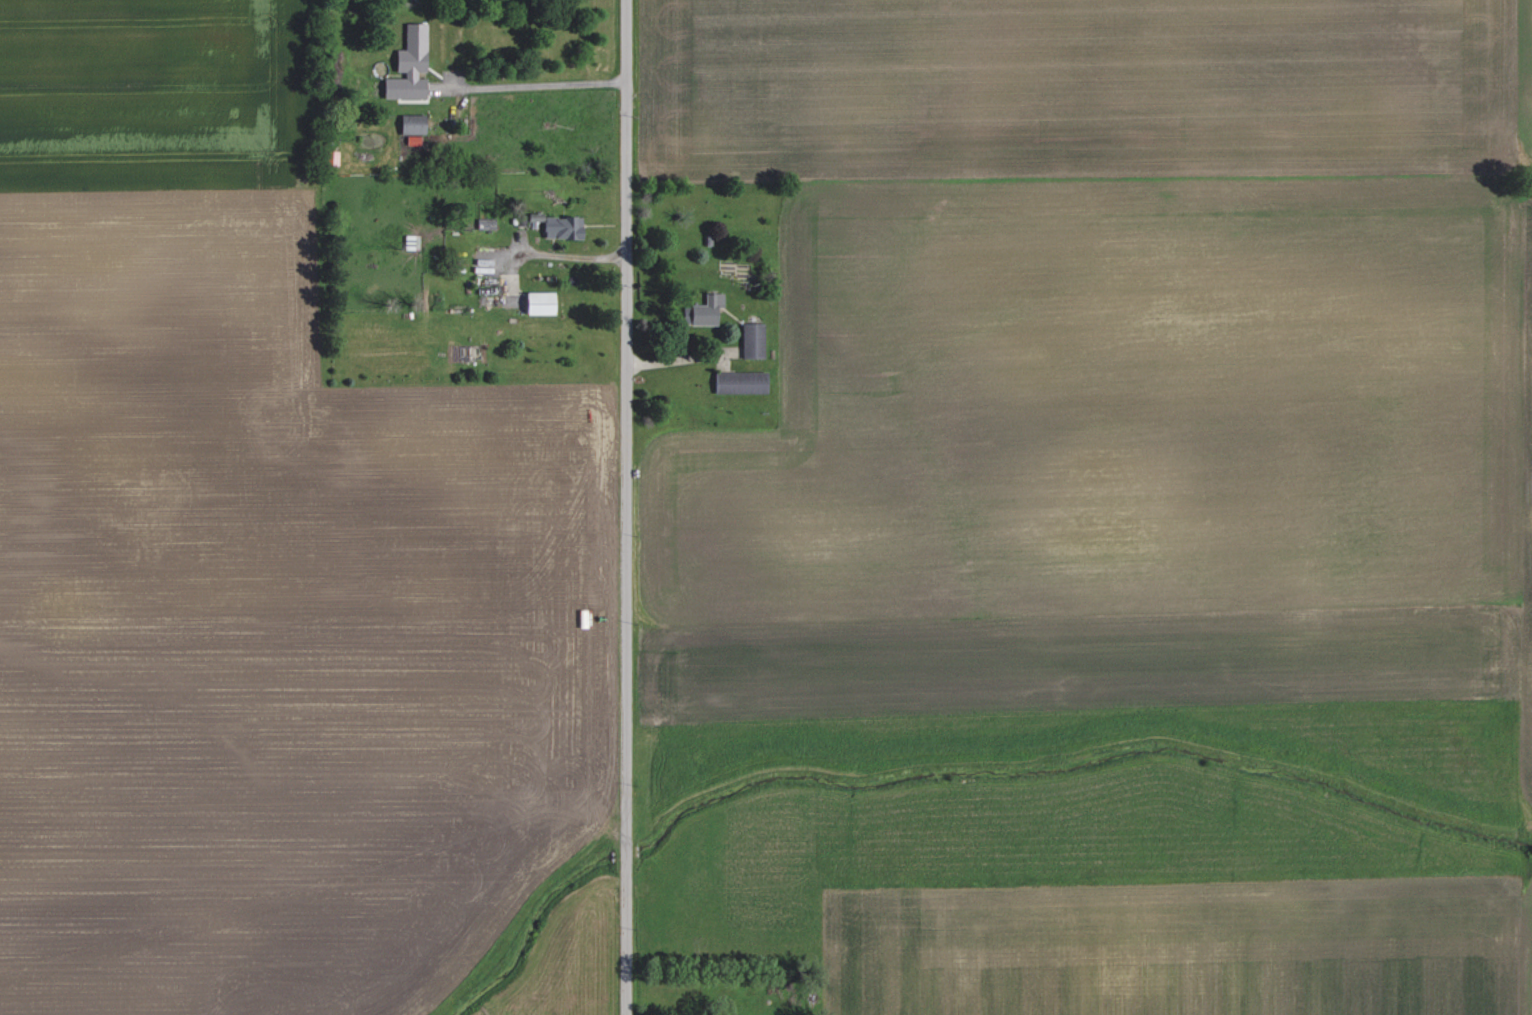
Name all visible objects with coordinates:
building: (407, 64)
road: (530, 85)
building: (409, 124)
building: (558, 227)
building: (536, 303)
building: (701, 311)
building: (751, 341)
building: (739, 382)
road: (627, 507)

